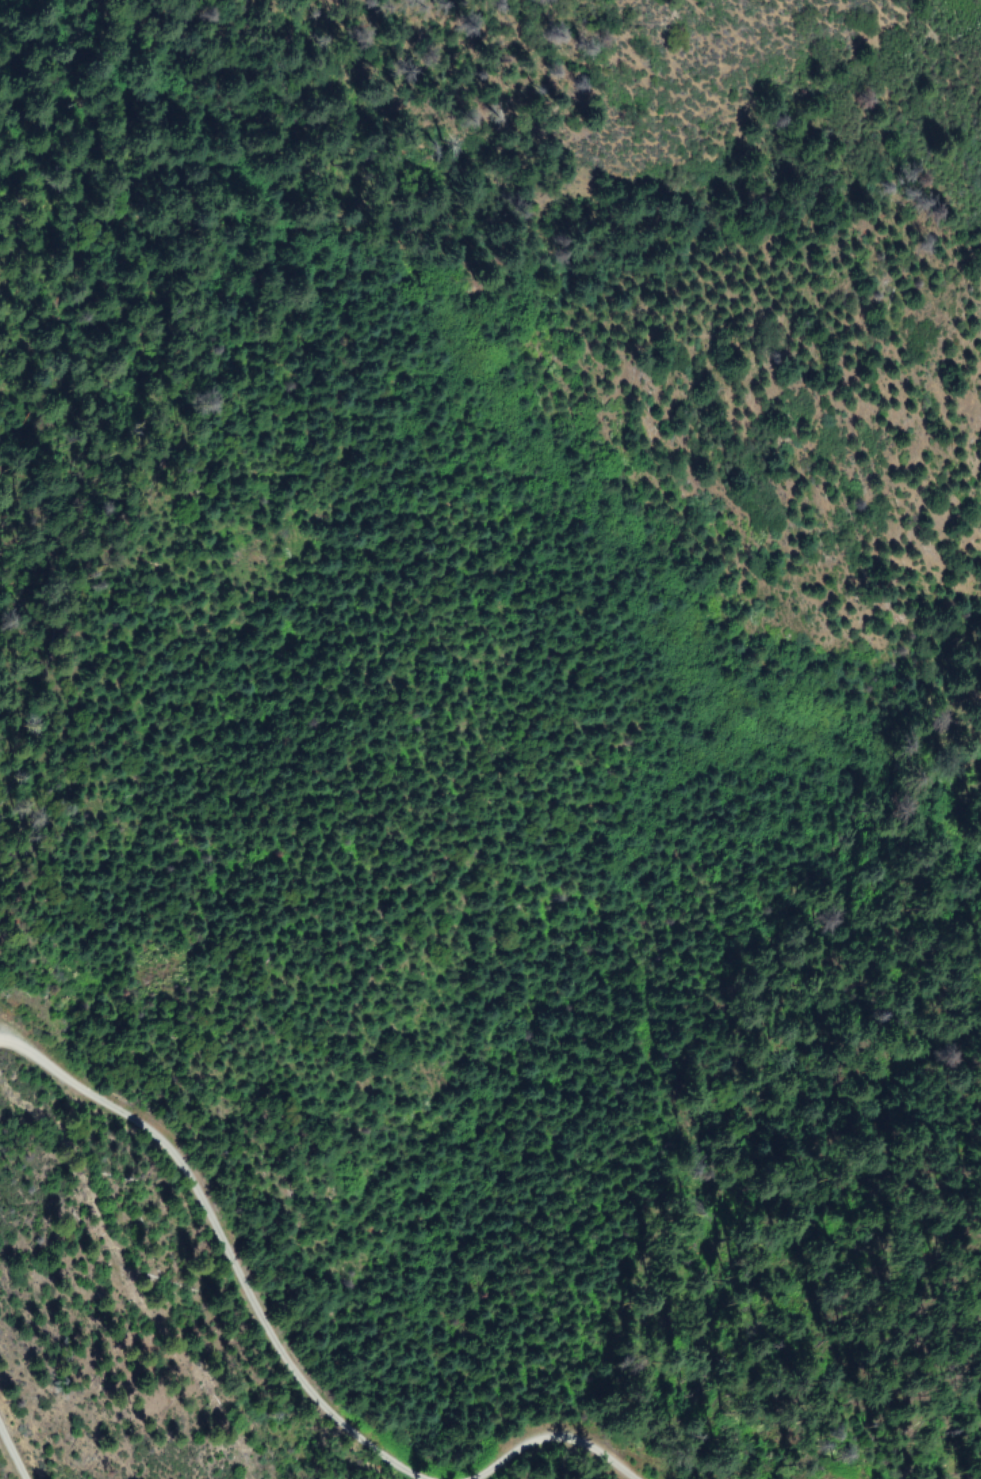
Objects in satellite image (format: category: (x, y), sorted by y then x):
road: (372, 1378)
road: (19, 1424)

